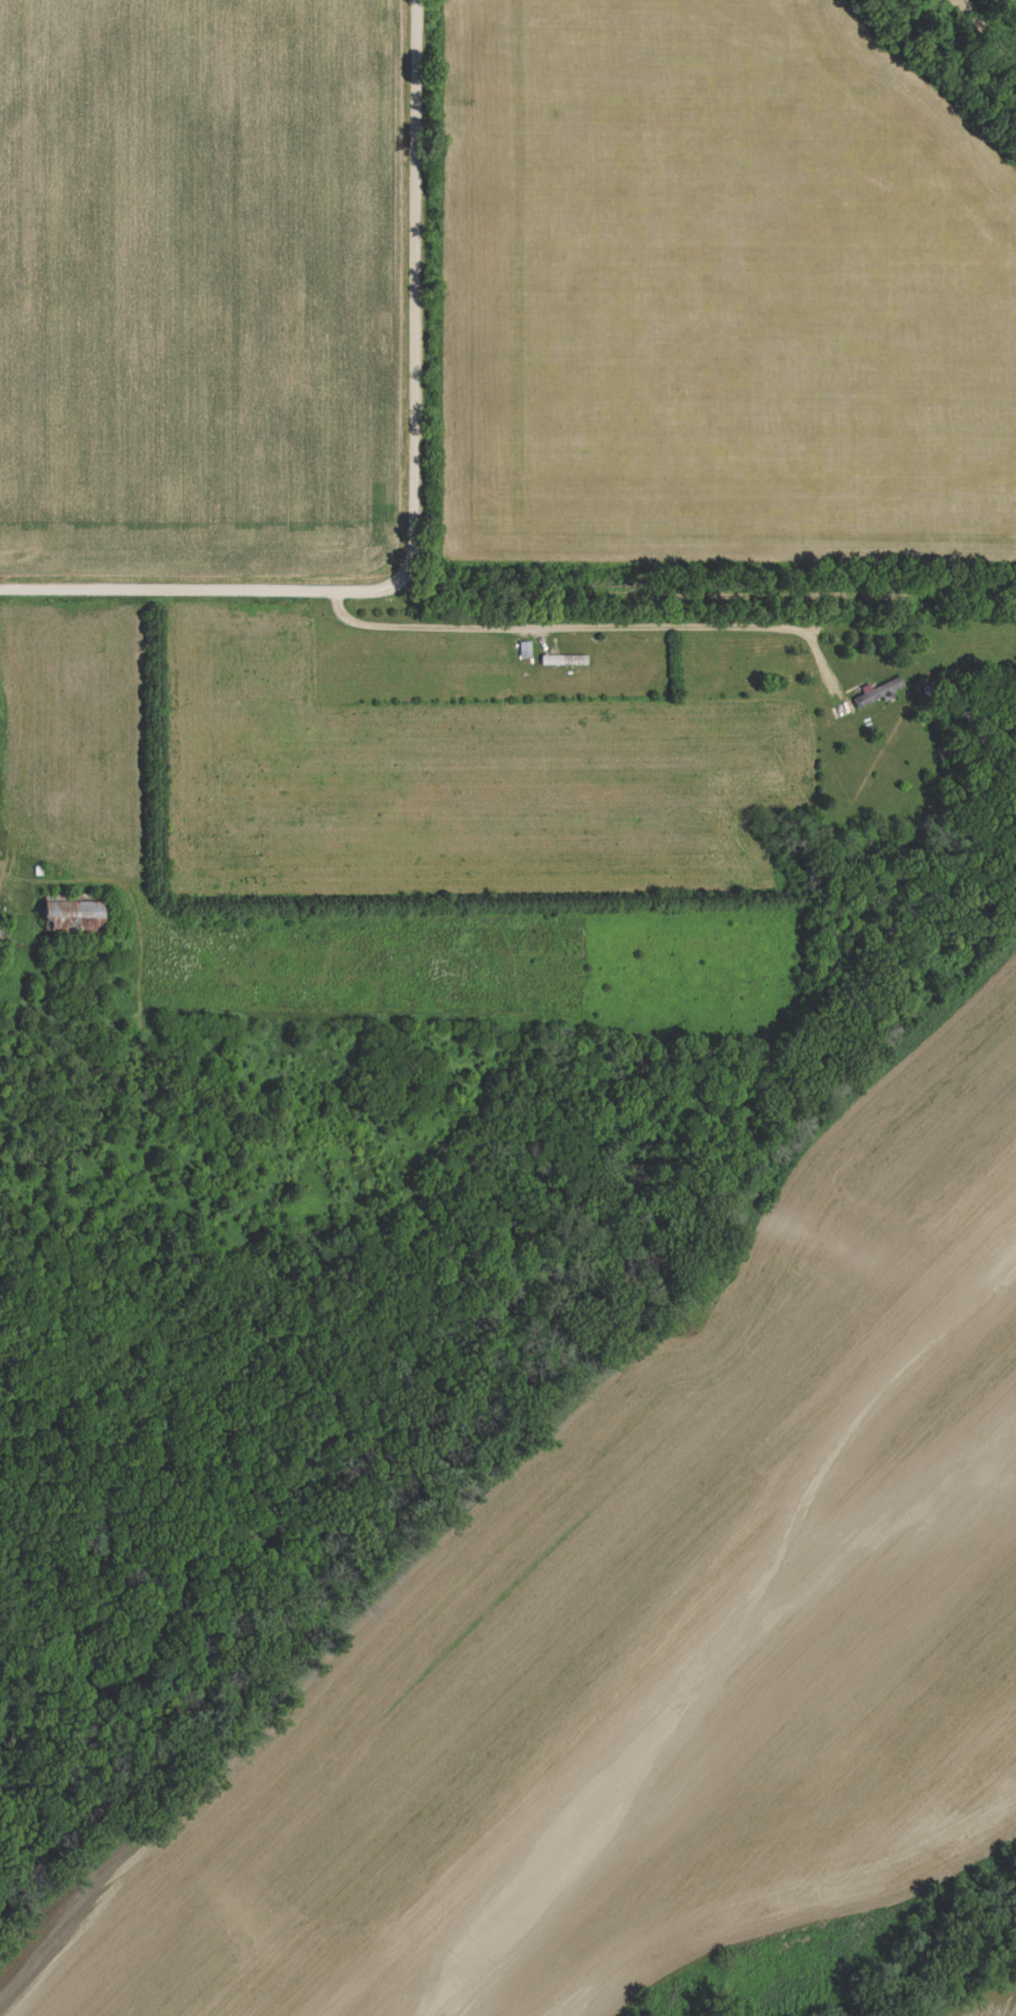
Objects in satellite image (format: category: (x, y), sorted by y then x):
road: (411, 491)
road: (589, 629)
building: (527, 651)
building: (555, 661)
building: (880, 694)
building: (77, 916)

